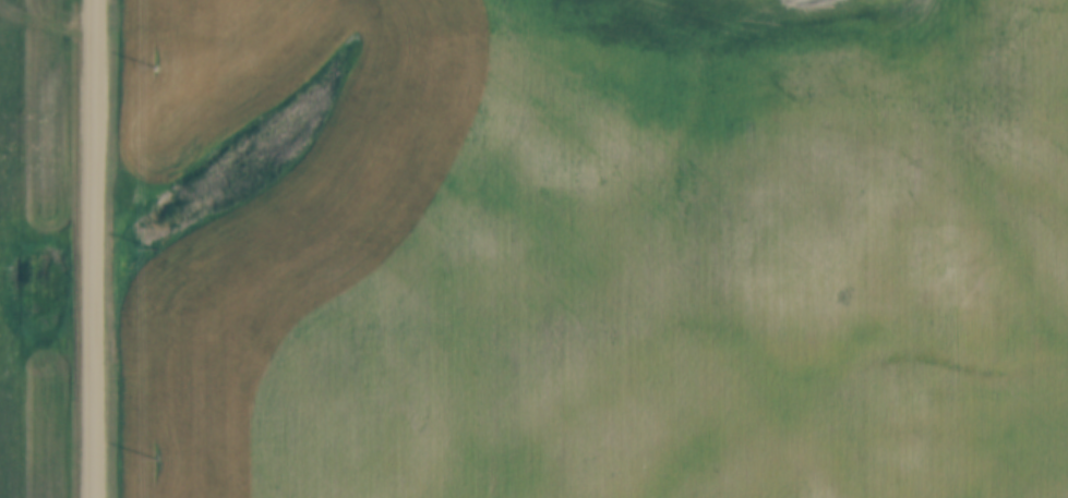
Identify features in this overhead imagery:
road: (95, 248)

